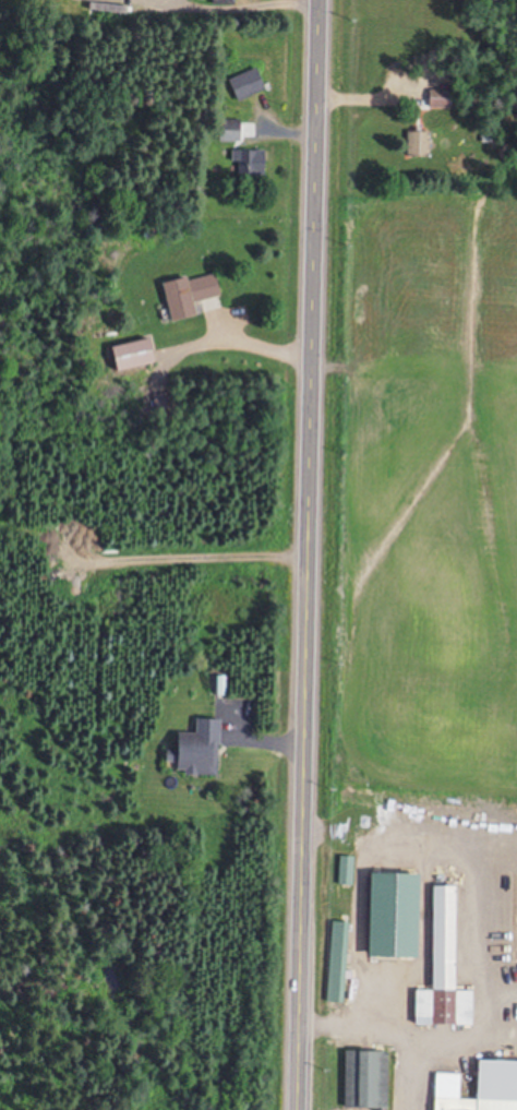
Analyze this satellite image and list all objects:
building: (244, 84)
building: (432, 99)
building: (225, 131)
building: (414, 145)
building: (244, 165)
building: (183, 295)
building: (128, 356)
road: (305, 554)
building: (191, 750)
building: (384, 916)
building: (335, 964)
building: (436, 970)
building: (509, 991)
building: (362, 1081)
building: (482, 1089)

